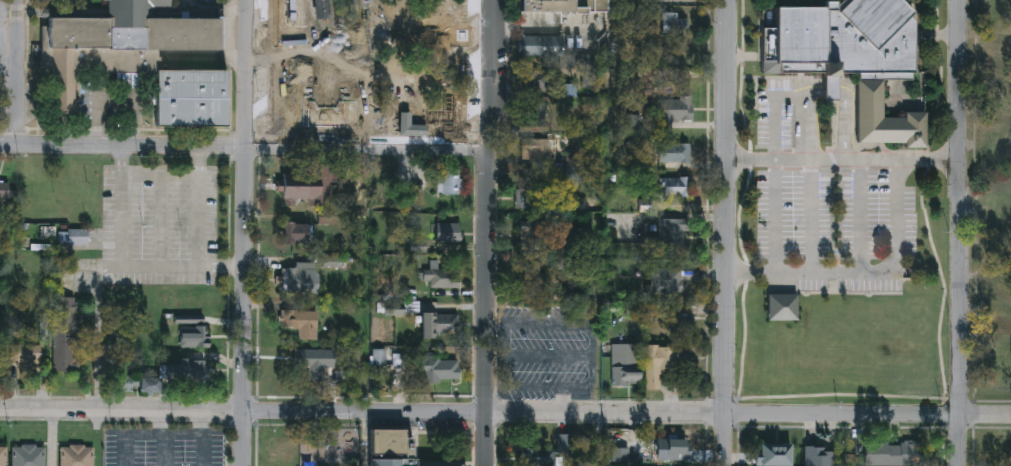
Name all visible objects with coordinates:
building: (559, 6)
building: (388, 23)
building: (674, 23)
road: (10, 35)
building: (299, 45)
building: (541, 46)
building: (850, 57)
parking lot: (1, 59)
building: (136, 60)
park: (420, 69)
road: (10, 71)
road: (20, 72)
building: (537, 81)
building: (394, 82)
road: (832, 93)
road: (814, 94)
road: (10, 105)
building: (674, 110)
building: (535, 115)
road: (776, 115)
road: (847, 123)
road: (240, 145)
building: (535, 149)
building: (674, 152)
road: (840, 160)
road: (161, 177)
building: (448, 182)
building: (304, 188)
building: (678, 188)
building: (6, 191)
building: (351, 194)
parking lot: (828, 196)
building: (529, 199)
road: (200, 206)
building: (326, 216)
road: (777, 216)
road: (861, 217)
road: (163, 222)
parking lot: (162, 227)
road: (481, 232)
road: (246, 233)
building: (294, 233)
building: (450, 233)
road: (725, 233)
road: (954, 233)
building: (533, 235)
building: (72, 237)
building: (672, 238)
road: (122, 267)
road: (752, 271)
road: (895, 274)
building: (442, 277)
building: (293, 278)
building: (666, 282)
building: (393, 308)
building: (783, 309)
building: (298, 319)
building: (679, 323)
building: (439, 325)
road: (536, 326)
road: (99, 328)
building: (65, 332)
building: (193, 336)
parking lot: (547, 352)
building: (26, 356)
road: (548, 356)
road: (591, 356)
building: (658, 364)
building: (625, 365)
building: (436, 369)
building: (163, 376)
road: (518, 386)
road: (564, 399)
road: (240, 412)
road: (745, 415)
road: (166, 437)
road: (53, 438)
road: (165, 439)
road: (203, 439)
parking lot: (167, 447)
building: (391, 449)
building: (672, 449)
road: (127, 451)
building: (549, 452)
building: (893, 452)
building: (773, 453)
building: (3, 455)
building: (29, 455)
building: (77, 455)
building: (819, 455)
building: (578, 464)

